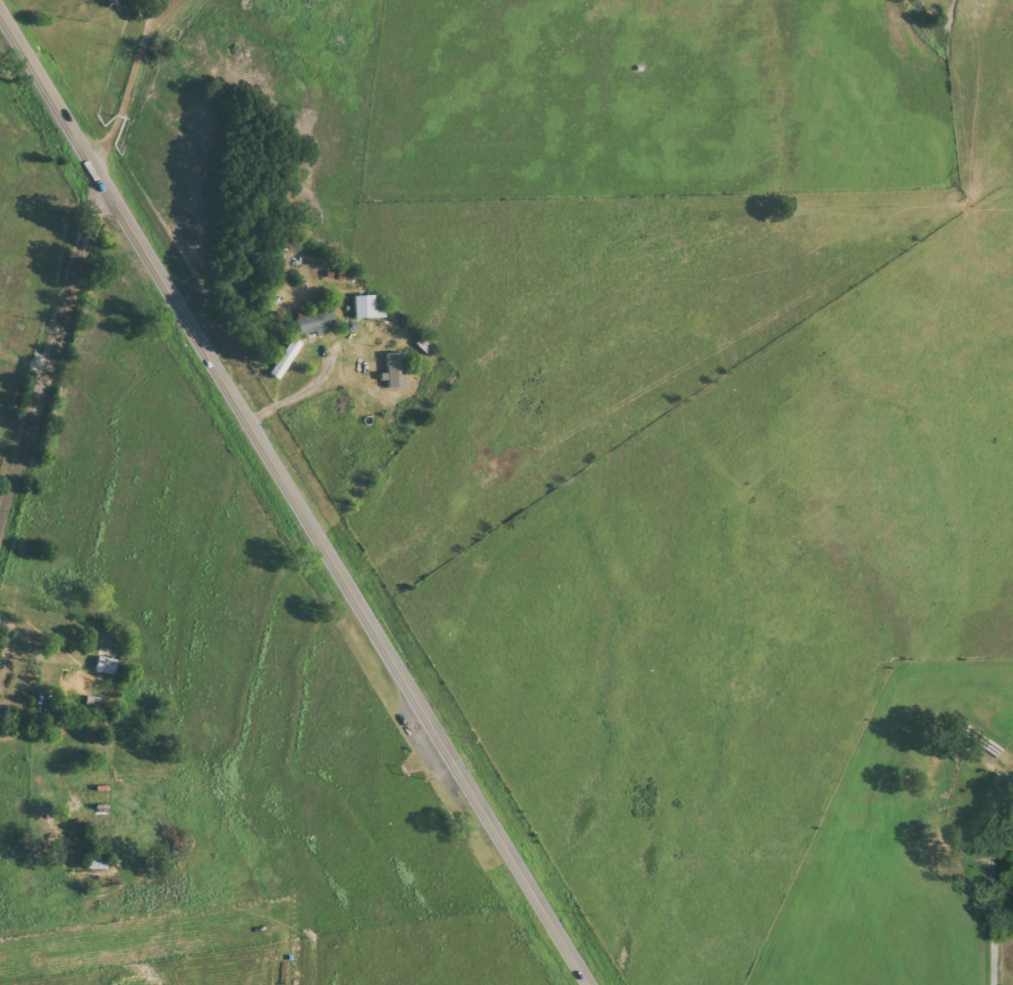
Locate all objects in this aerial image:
building: (367, 308)
building: (314, 323)
building: (284, 359)
road: (50, 363)
building: (393, 371)
road: (293, 497)
building: (104, 665)
road: (994, 879)

